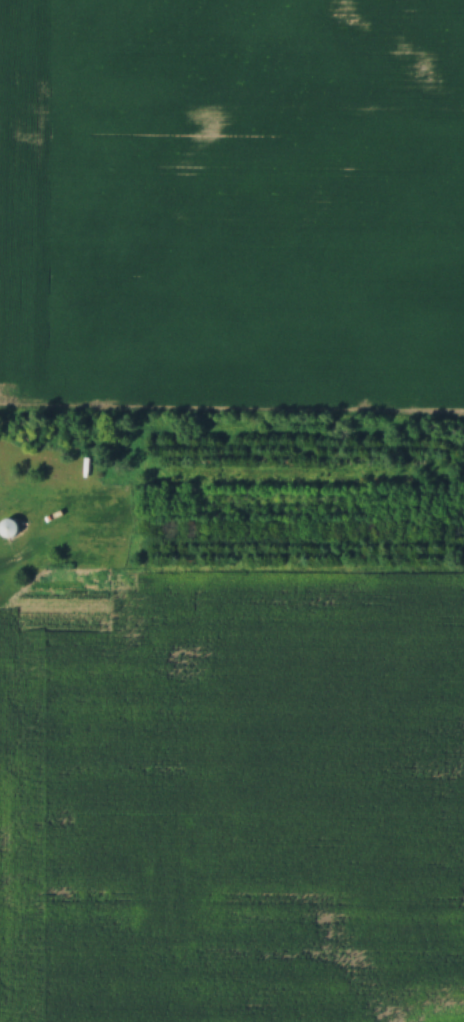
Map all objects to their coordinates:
building: (10, 528)

